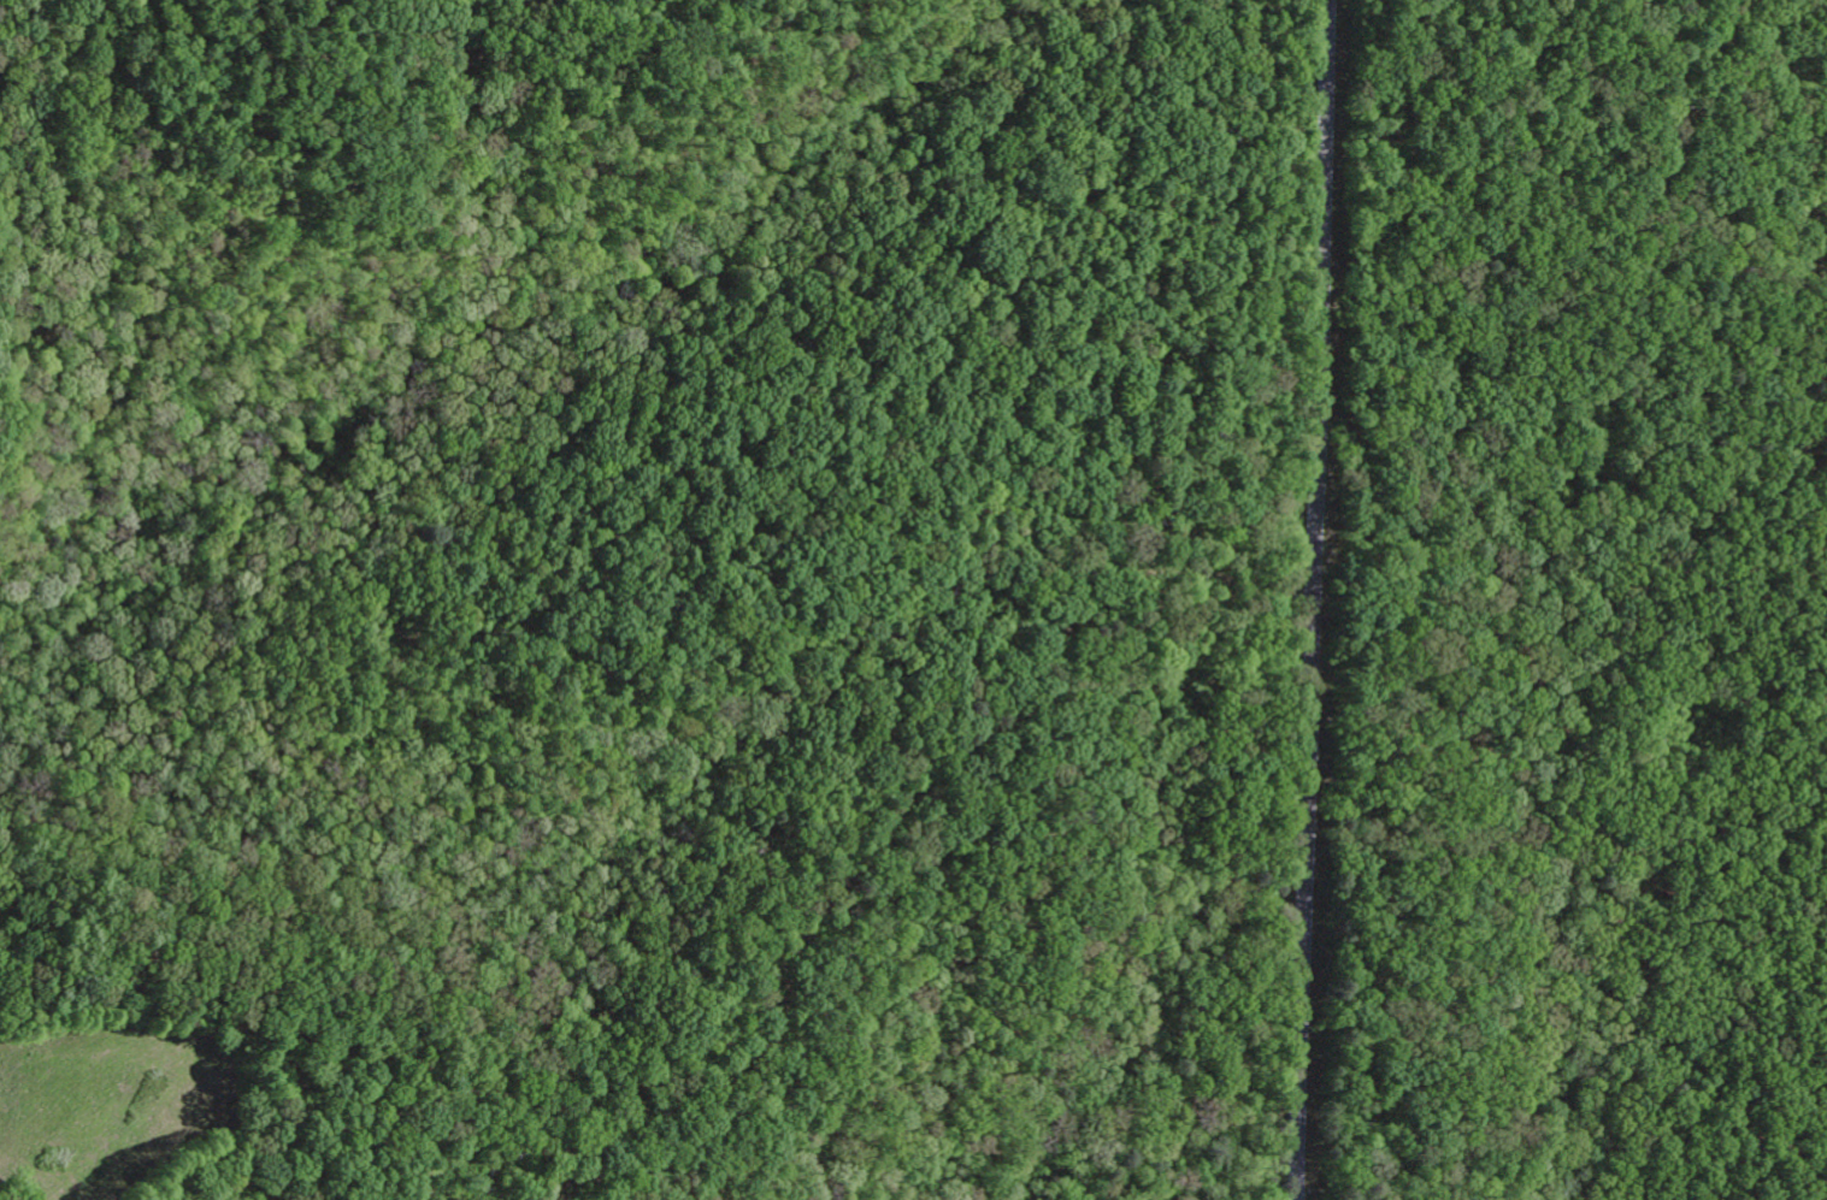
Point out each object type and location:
road: (1313, 599)

